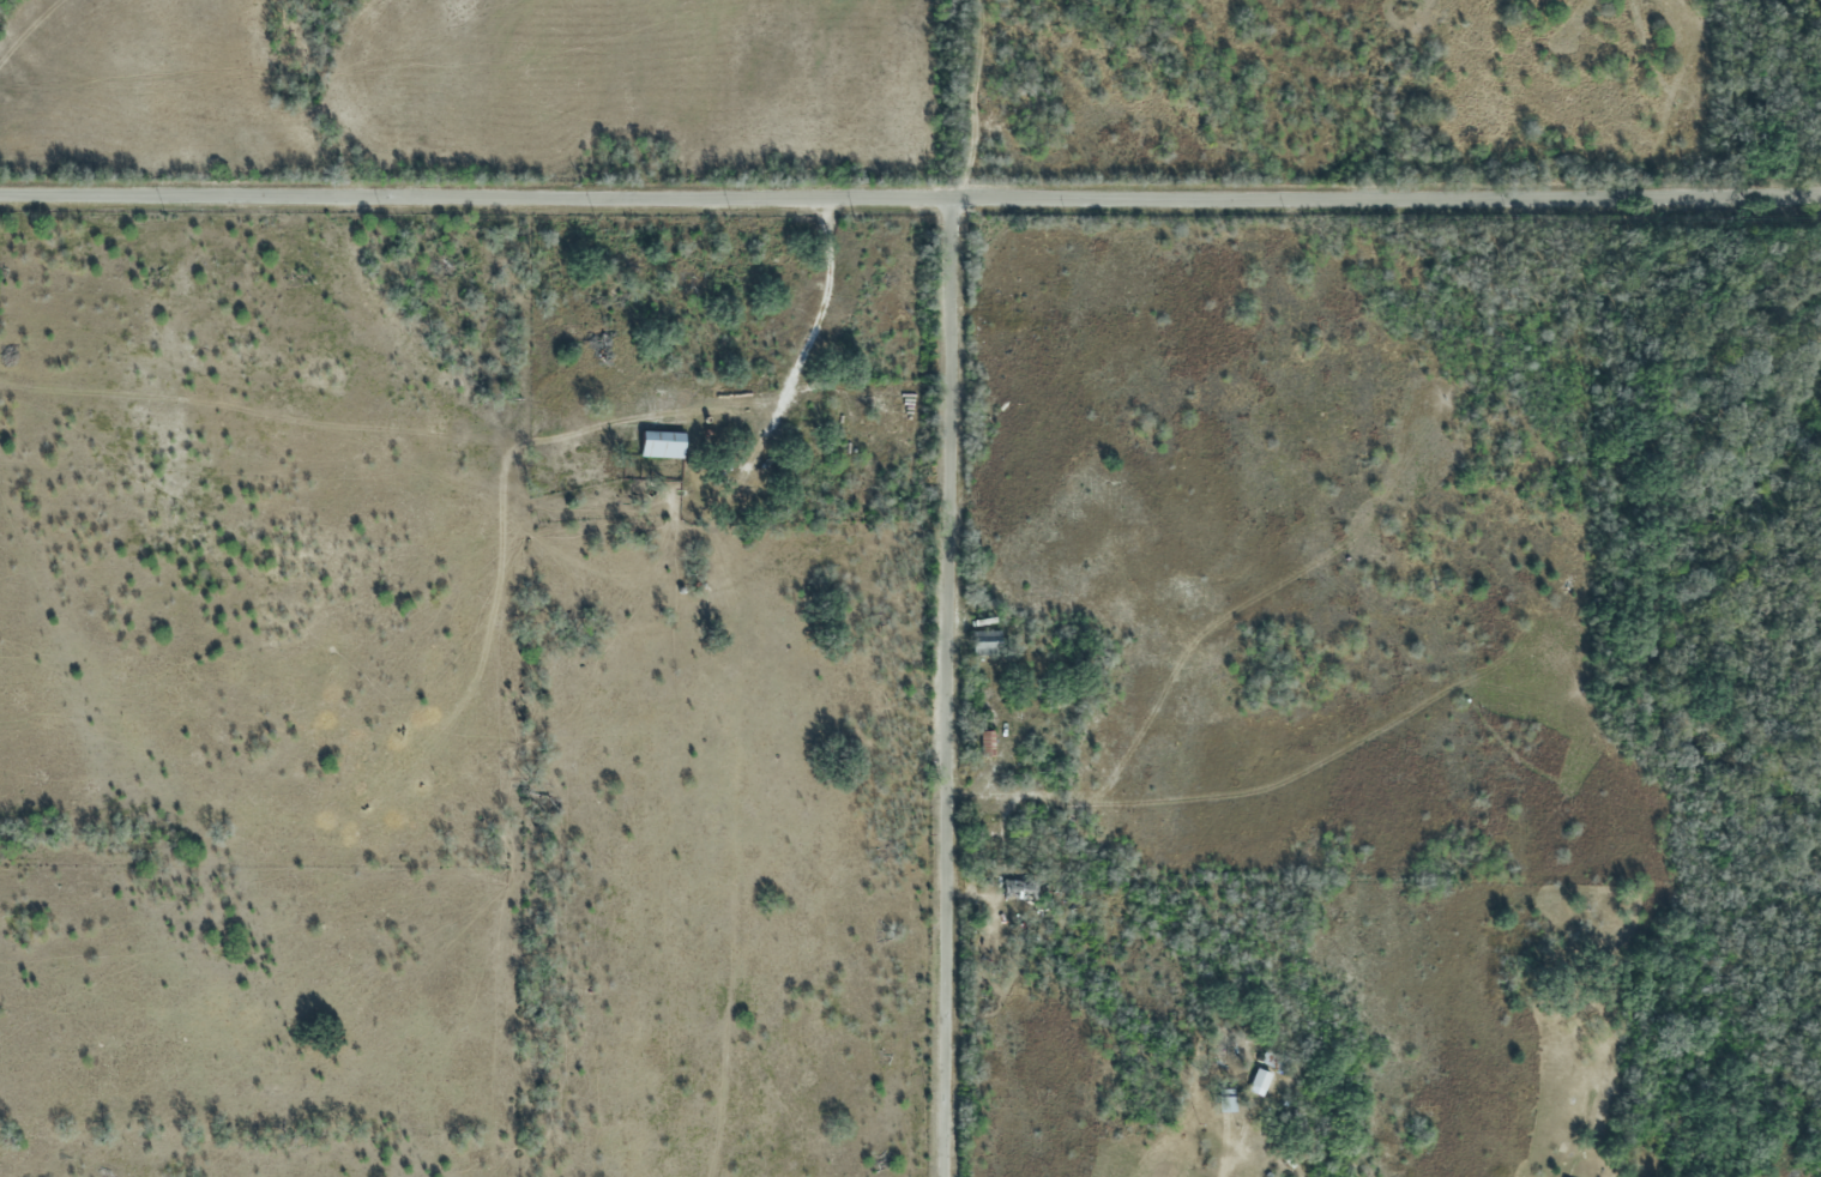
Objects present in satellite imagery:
road: (910, 194)
building: (657, 442)
building: (984, 641)
road: (941, 686)
building: (983, 742)
building: (1015, 887)
building: (1222, 1054)
building: (1271, 1058)
building: (1222, 1099)

